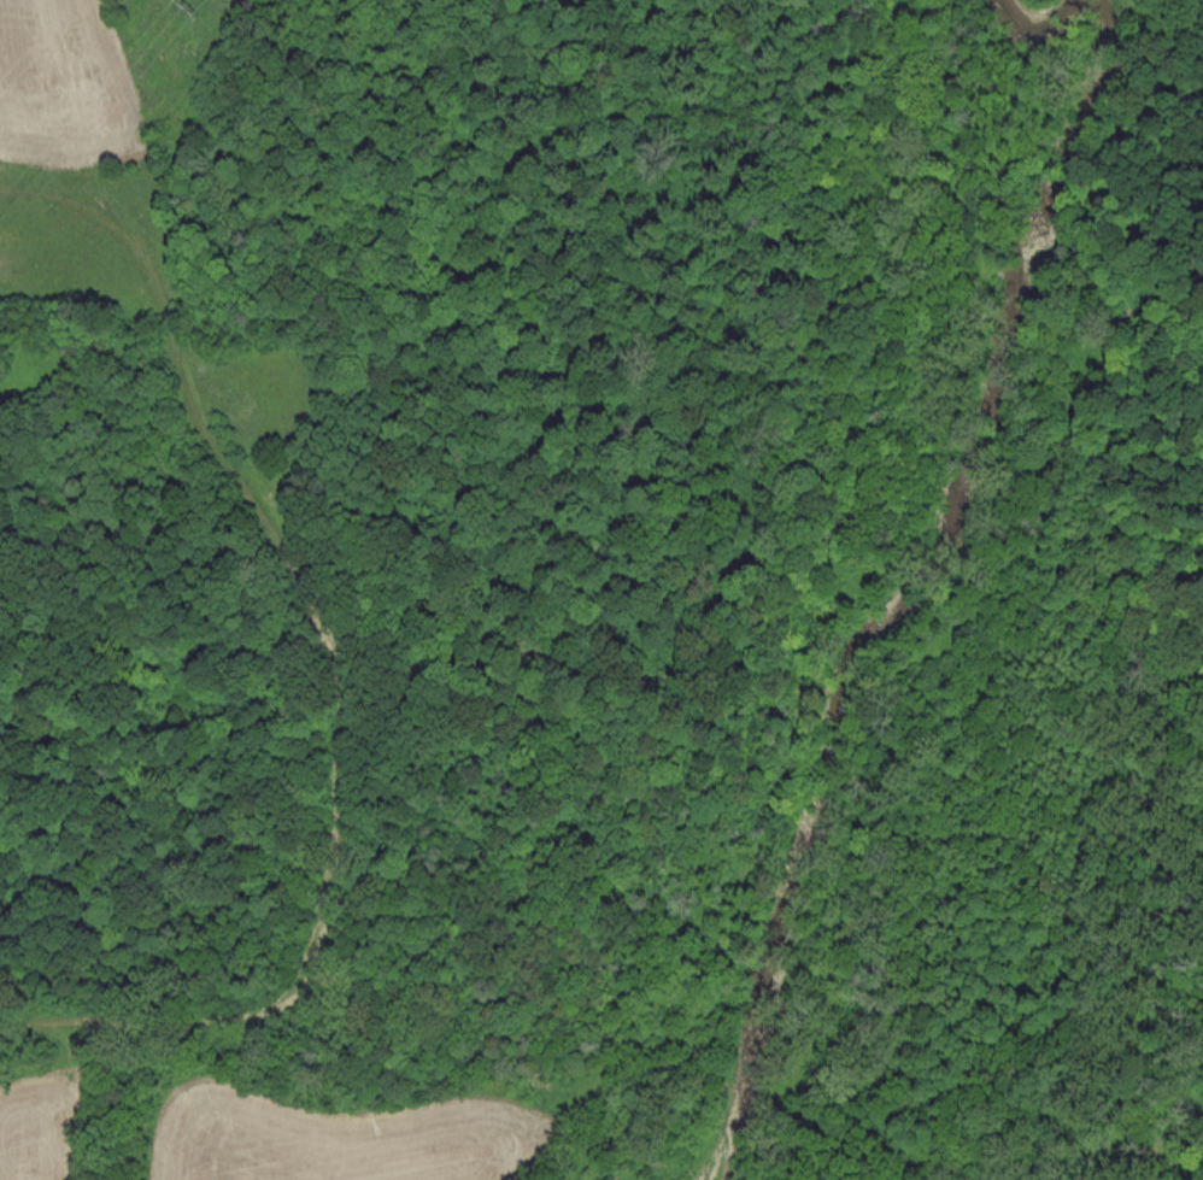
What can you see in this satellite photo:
power tower: (189, 5)
road: (335, 665)

